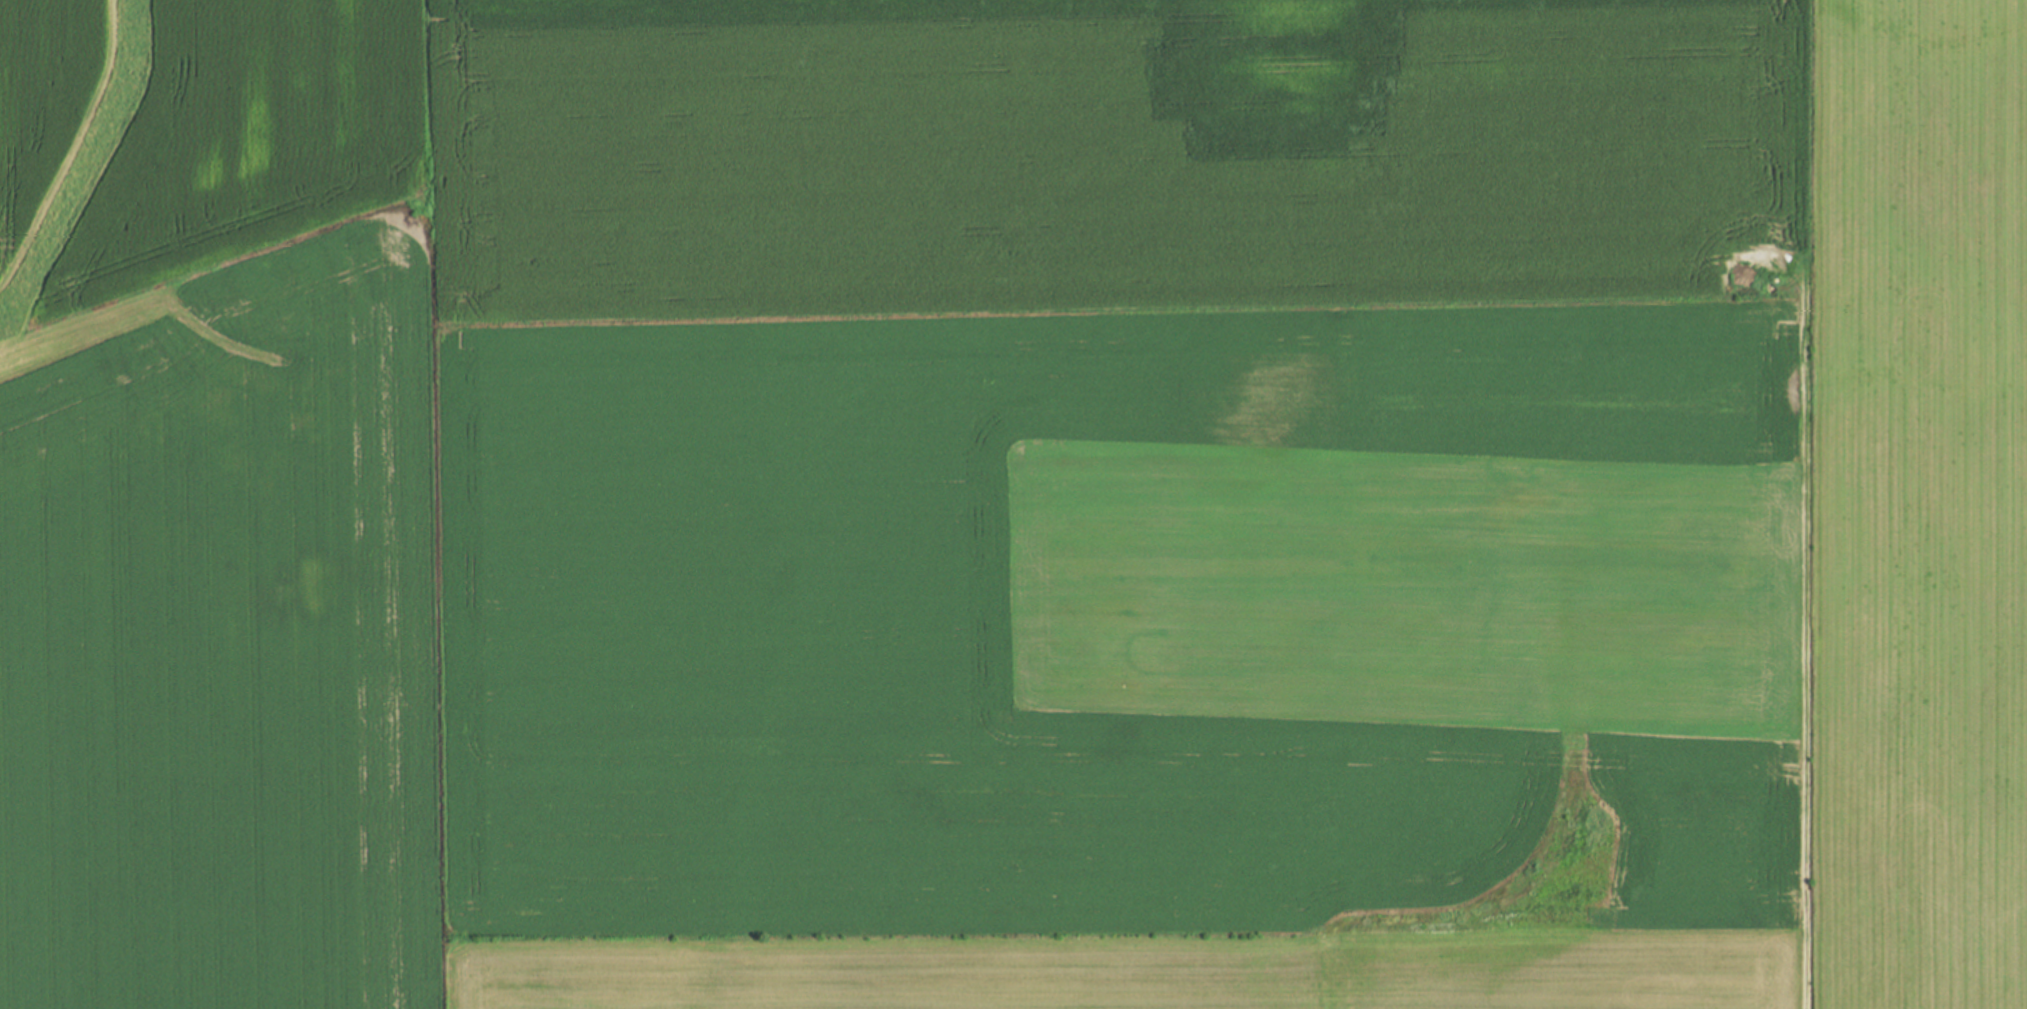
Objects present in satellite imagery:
road: (1802, 649)

